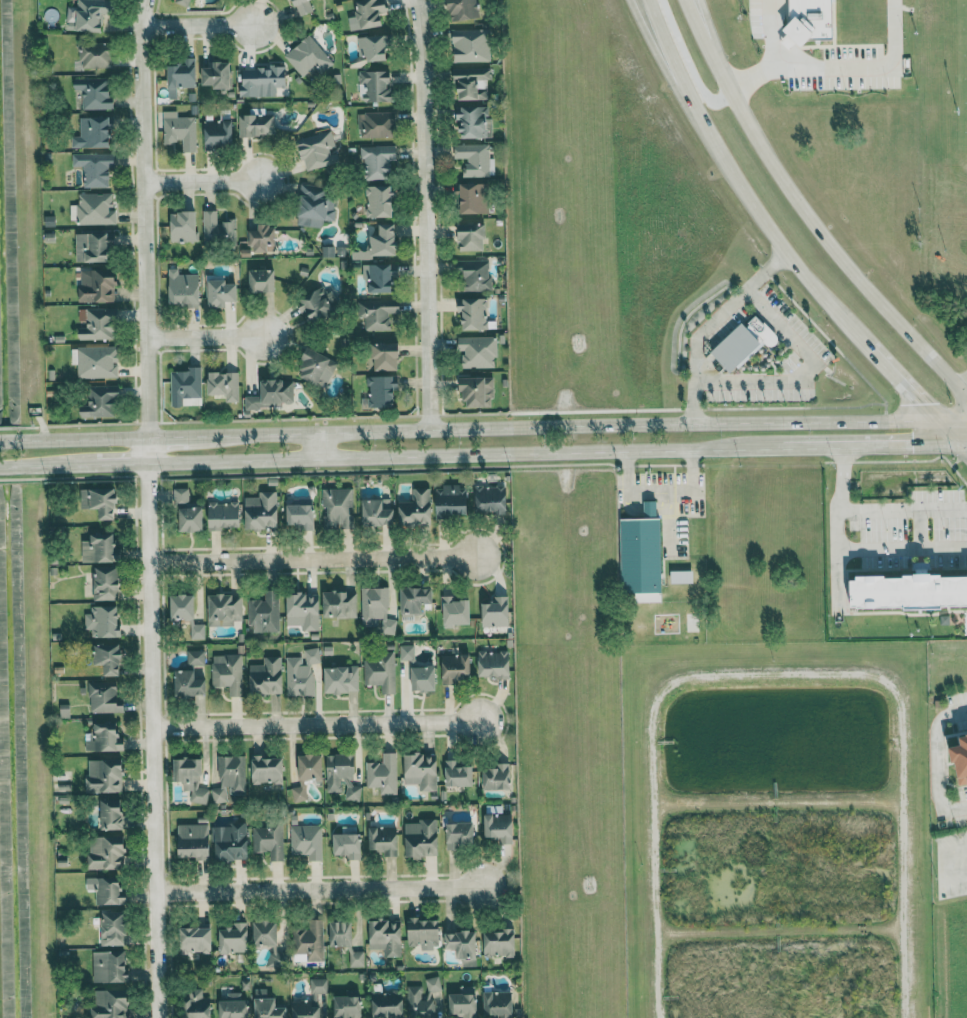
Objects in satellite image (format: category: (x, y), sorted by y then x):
building: (184, 2)
building: (302, 6)
building: (464, 9)
building: (368, 14)
building: (87, 15)
building: (812, 19)
road: (705, 23)
road: (197, 24)
building: (472, 44)
building: (375, 46)
building: (96, 54)
building: (309, 58)
road: (659, 58)
road: (689, 63)
road: (829, 63)
building: (218, 74)
building: (181, 76)
road: (754, 76)
building: (262, 80)
building: (472, 81)
building: (375, 85)
building: (95, 92)
building: (473, 120)
building: (376, 124)
building: (256, 125)
building: (180, 130)
building: (94, 132)
building: (219, 133)
building: (318, 150)
building: (474, 158)
building: (378, 161)
building: (96, 168)
road: (201, 181)
road: (738, 184)
building: (475, 197)
building: (379, 201)
building: (315, 205)
building: (93, 209)
road: (807, 212)
road: (424, 214)
building: (184, 226)
building: (218, 229)
building: (472, 236)
building: (264, 238)
building: (381, 243)
building: (95, 247)
building: (475, 274)
building: (379, 276)
building: (262, 280)
building: (98, 285)
building: (184, 288)
building: (222, 292)
building: (317, 305)
building: (473, 312)
building: (379, 313)
building: (98, 324)
road: (709, 325)
building: (764, 332)
road: (204, 336)
building: (737, 347)
building: (478, 351)
building: (386, 356)
building: (316, 368)
road: (806, 374)
road: (899, 383)
building: (224, 385)
building: (186, 387)
building: (478, 391)
building: (381, 392)
building: (273, 393)
building: (101, 401)
traffic signals: (919, 405)
road: (502, 427)
road: (947, 434)
road: (19, 440)
road: (323, 446)
road: (963, 447)
traffic signals: (928, 448)
road: (963, 452)
road: (498, 454)
road: (18, 468)
road: (662, 489)
building: (181, 494)
building: (491, 499)
building: (452, 500)
building: (101, 501)
building: (337, 507)
building: (652, 507)
road: (900, 507)
road: (148, 508)
building: (416, 509)
building: (262, 510)
building: (378, 513)
building: (225, 516)
building: (301, 516)
building: (192, 519)
road: (921, 526)
building: (99, 548)
road: (855, 548)
building: (641, 555)
road: (313, 558)
building: (106, 583)
building: (910, 592)
building: (415, 601)
building: (340, 604)
building: (183, 607)
building: (225, 609)
building: (377, 609)
building: (304, 611)
building: (456, 611)
building: (496, 612)
building: (265, 613)
building: (103, 621)
building: (197, 630)
building: (109, 658)
building: (494, 664)
building: (456, 669)
building: (419, 671)
building: (380, 672)
building: (228, 673)
building: (301, 673)
building: (192, 676)
building: (267, 677)
building: (342, 680)
building: (105, 698)
building: (65, 710)
road: (316, 724)
building: (105, 738)
road: (939, 759)
building: (962, 760)
building: (267, 770)
building: (422, 771)
building: (308, 774)
building: (383, 774)
building: (459, 774)
building: (342, 776)
building: (110, 777)
building: (230, 777)
building: (191, 778)
building: (498, 778)
building: (113, 814)
building: (499, 828)
building: (460, 836)
building: (422, 838)
building: (270, 840)
building: (384, 840)
building: (194, 841)
building: (307, 841)
building: (231, 842)
building: (348, 846)
building: (107, 853)
road: (947, 863)
road: (319, 889)
building: (108, 890)
building: (114, 928)
building: (424, 932)
building: (266, 933)
building: (387, 937)
building: (234, 939)
building: (196, 940)
building: (346, 940)
building: (309, 942)
building: (500, 943)
building: (463, 944)
building: (110, 967)
building: (318, 985)
building: (464, 1003)
building: (111, 1004)
building: (197, 1004)
building: (388, 1004)
building: (498, 1005)
building: (267, 1006)
building: (234, 1007)
building: (348, 1007)
building: (306, 1008)

